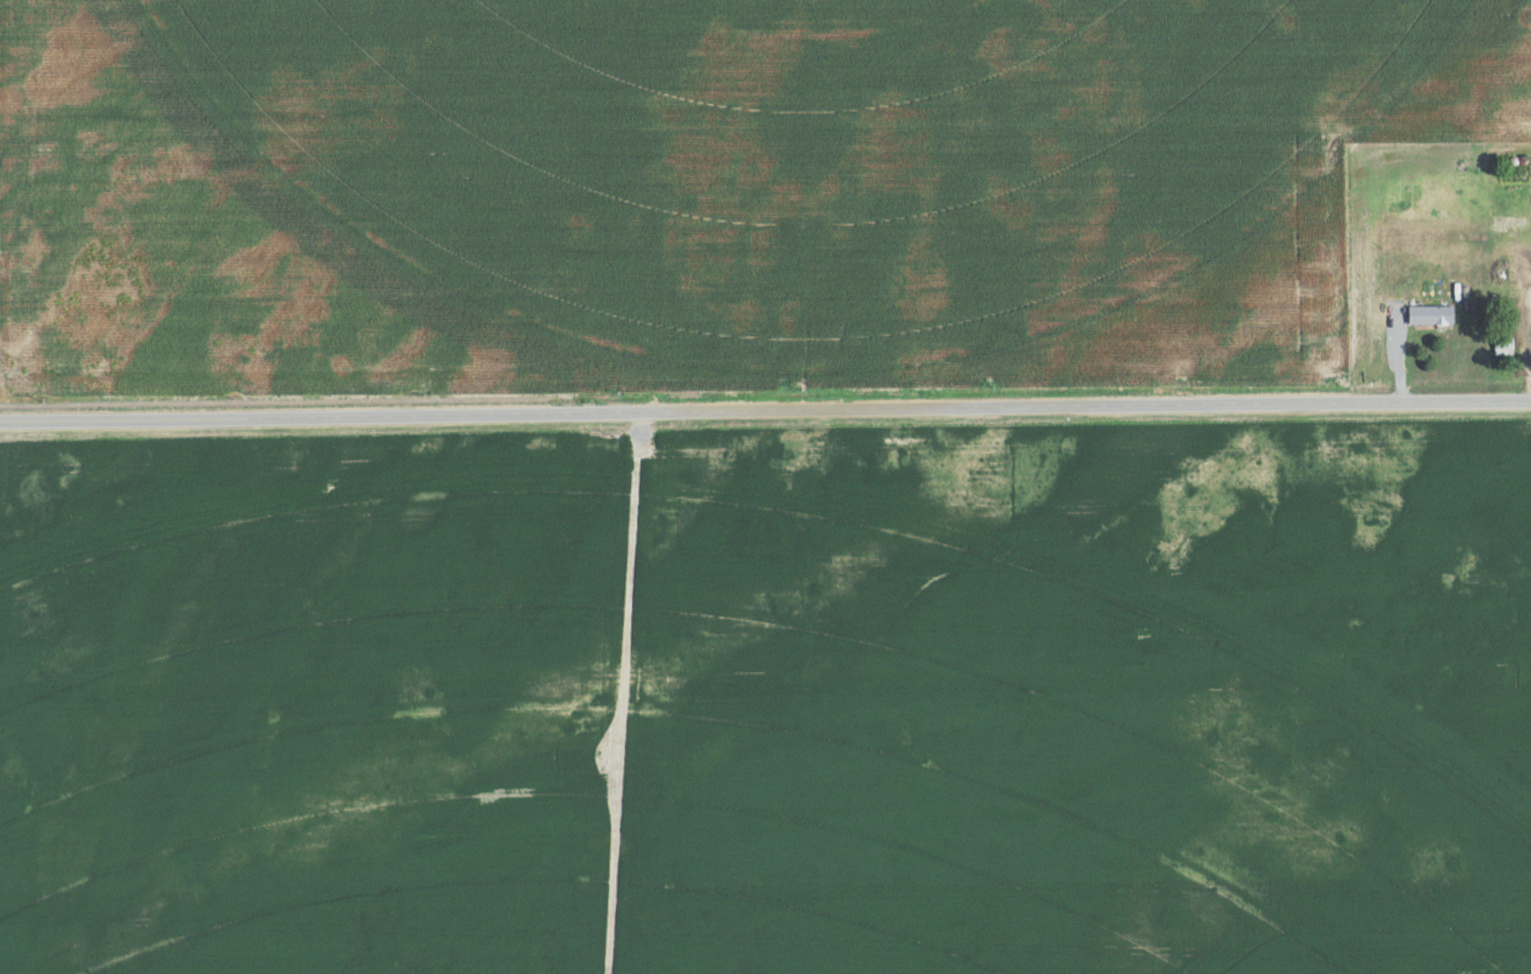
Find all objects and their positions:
building: (1463, 289)
building: (1429, 312)
building: (1502, 343)
road: (1529, 343)
road: (1399, 347)
road: (765, 407)

